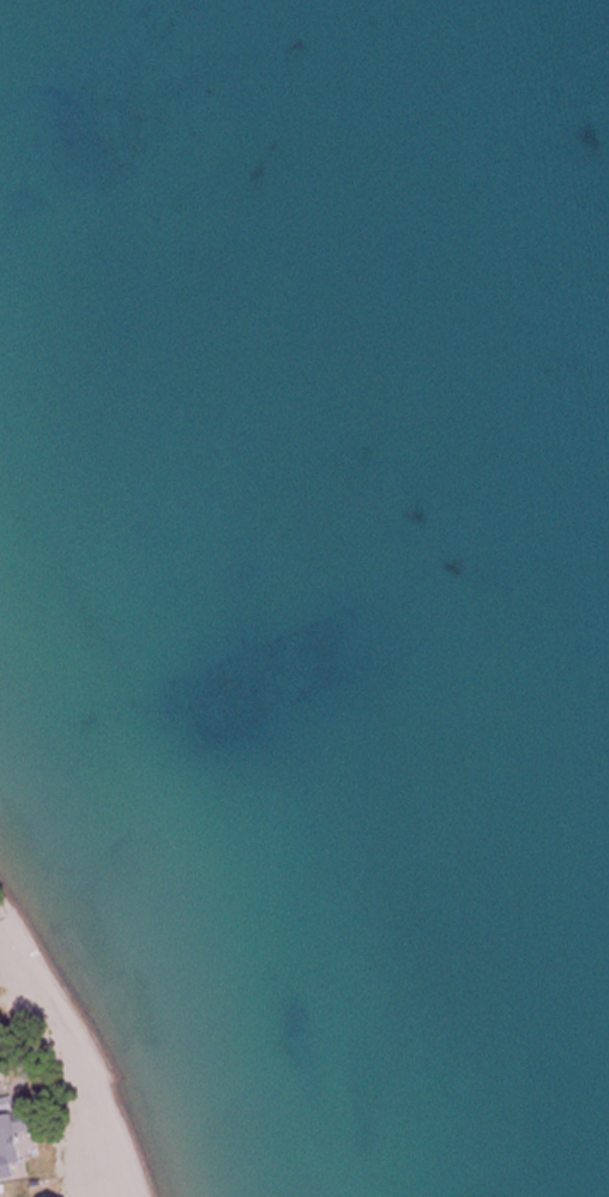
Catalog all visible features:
building: (18, 1122)

